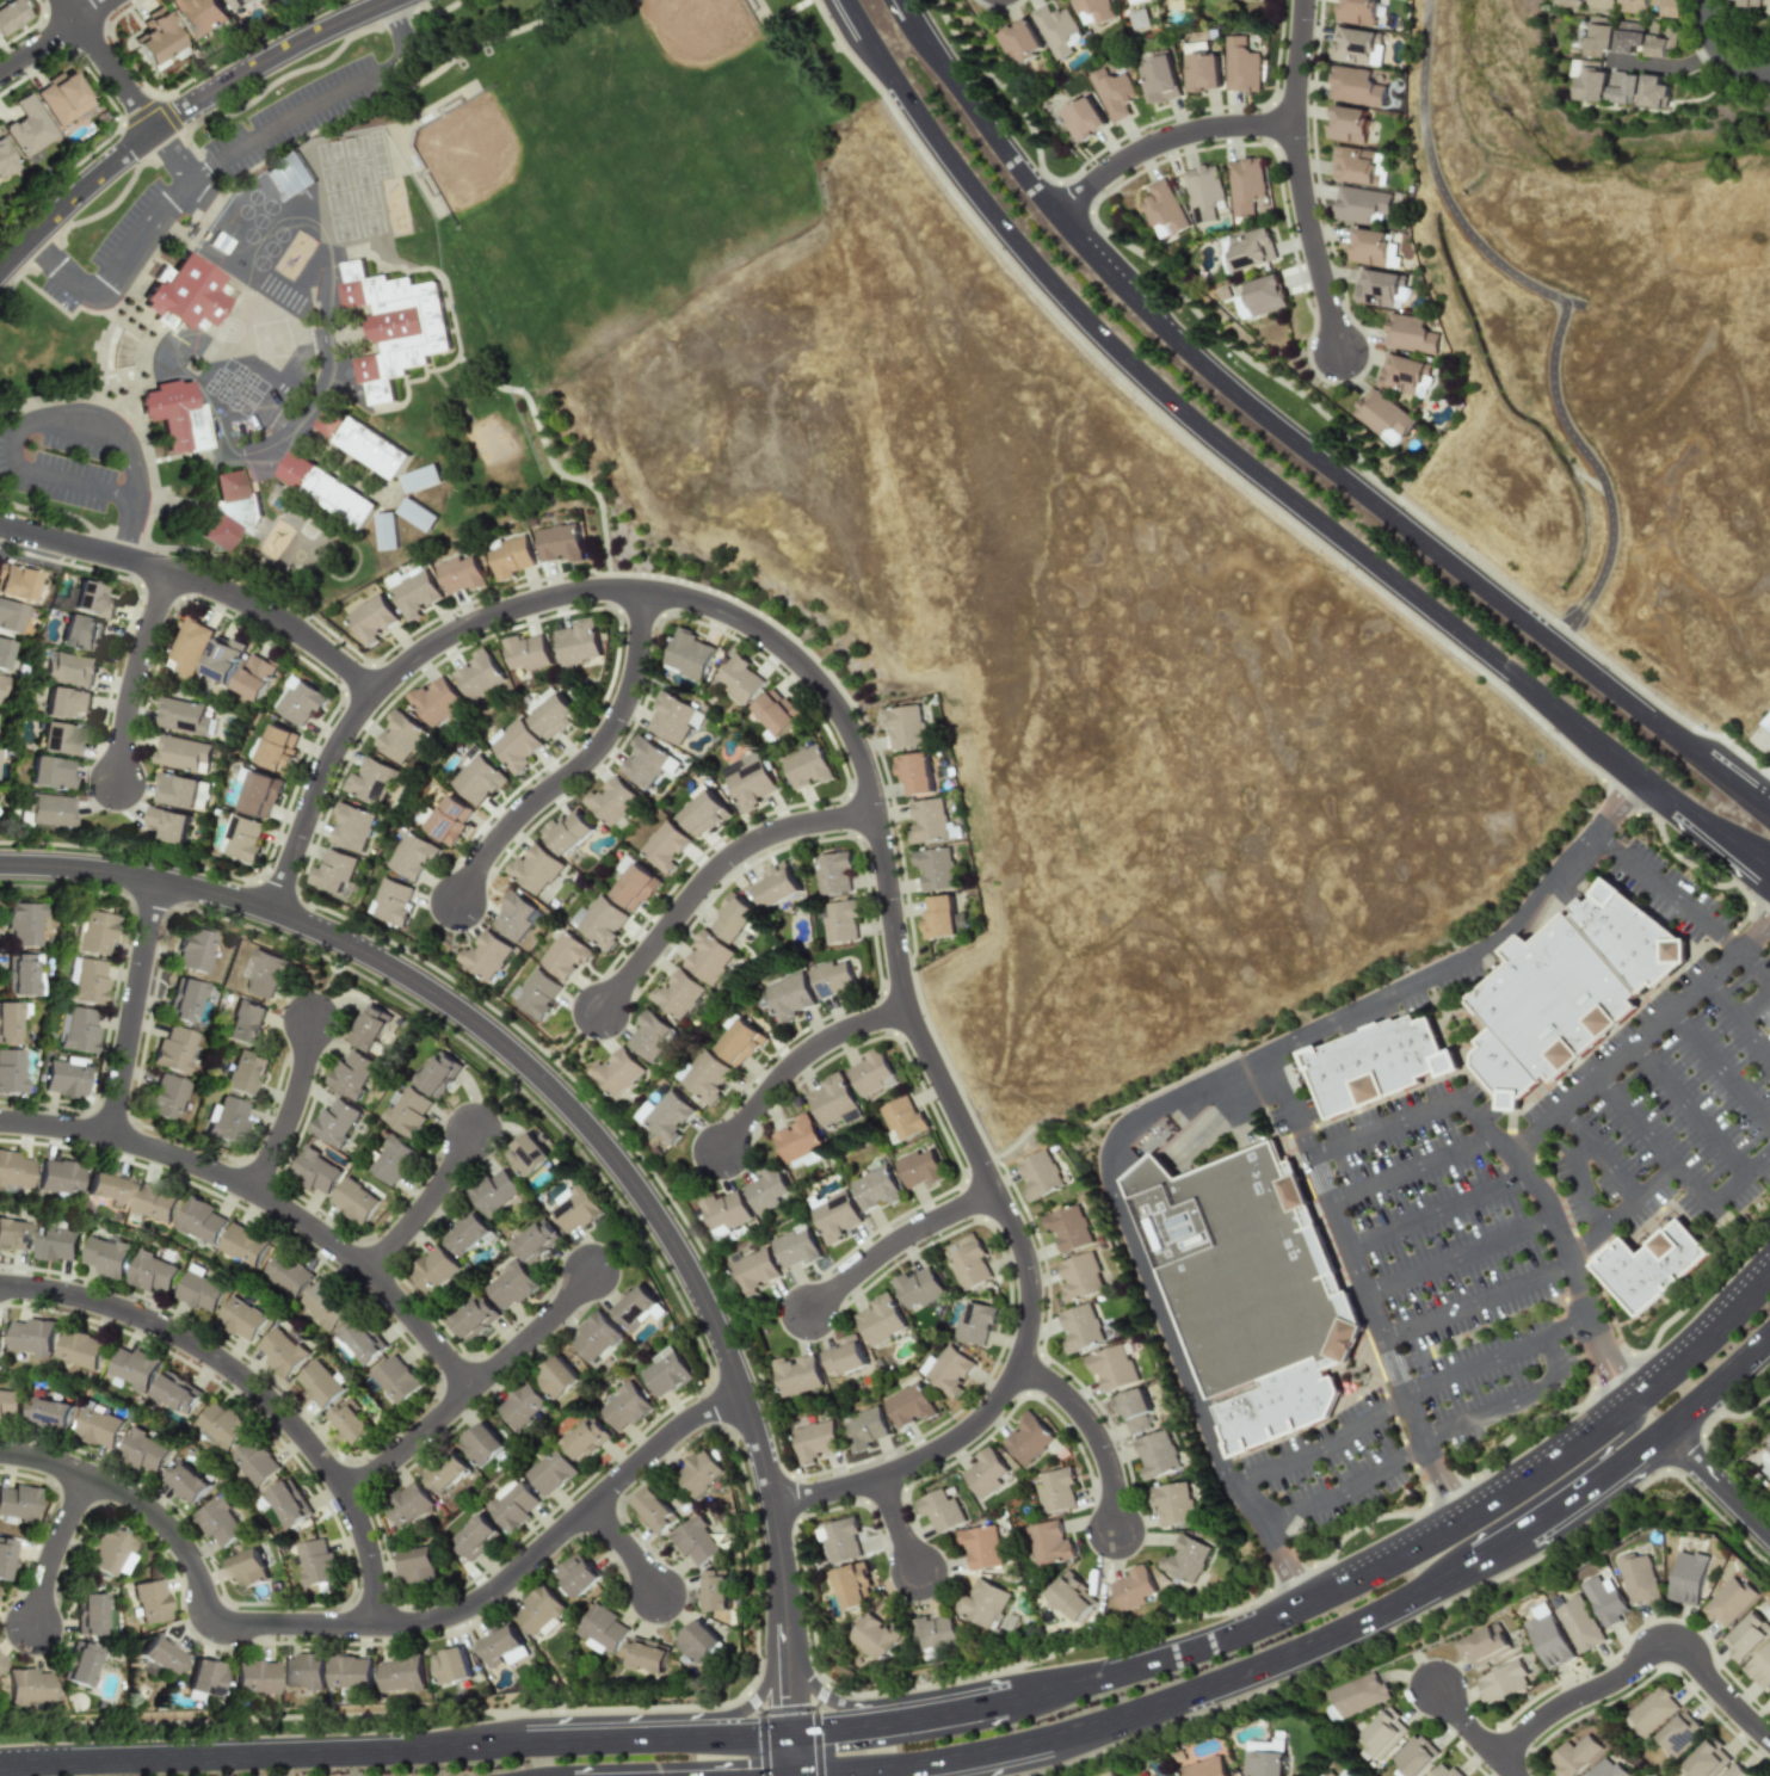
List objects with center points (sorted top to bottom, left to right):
building: (1131, 1)
building: (1568, 2)
building: (1749, 2)
building: (1765, 2)
building: (240, 4)
building: (1598, 5)
building: (1632, 6)
building: (1666, 7)
building: (1092, 10)
road: (94, 11)
building: (1357, 11)
building: (12, 16)
building: (201, 16)
building: (1055, 29)
building: (1597, 36)
building: (1626, 36)
building: (159, 41)
building: (1019, 41)
building: (1658, 43)
building: (1355, 44)
road: (39, 48)
road: (1719, 53)
road: (1294, 62)
building: (1240, 64)
road: (1663, 64)
road: (110, 66)
building: (1199, 68)
building: (1158, 80)
building: (1587, 81)
building: (1353, 86)
building: (1621, 87)
building: (1112, 92)
building: (1652, 92)
building: (62, 97)
road: (180, 115)
building: (1081, 117)
building: (1347, 124)
building: (27, 127)
road: (1165, 140)
road: (175, 156)
building: (4, 160)
road: (222, 161)
building: (1358, 166)
building: (289, 175)
building: (1244, 184)
road: (1442, 189)
building: (1202, 191)
building: (1361, 204)
building: (1161, 210)
road: (1308, 240)
building: (1374, 247)
building: (1246, 249)
building: (1383, 289)
building: (183, 294)
building: (1262, 296)
building: (394, 326)
building: (1411, 333)
building: (1407, 374)
building: (175, 415)
building: (1382, 417)
building: (328, 423)
road: (104, 426)
road: (1305, 438)
building: (369, 448)
road: (1602, 475)
road: (61, 479)
building: (419, 479)
road: (1256, 485)
building: (325, 489)
building: (229, 510)
building: (415, 514)
road: (132, 529)
building: (386, 530)
park: (967, 536)
building: (559, 543)
building: (511, 557)
building: (460, 574)
building: (17, 581)
road: (199, 582)
building: (413, 591)
building: (91, 599)
building: (10, 616)
building: (371, 619)
building: (80, 631)
building: (578, 642)
building: (189, 647)
building: (4, 652)
building: (525, 653)
building: (689, 654)
building: (222, 659)
building: (70, 668)
road: (135, 674)
building: (476, 674)
building: (254, 677)
building: (739, 679)
building: (1, 683)
building: (298, 701)
building: (63, 702)
building: (433, 702)
building: (776, 713)
building: (551, 717)
building: (673, 719)
building: (1766, 724)
building: (903, 726)
building: (399, 736)
building: (60, 739)
building: (513, 745)
building: (278, 748)
building: (183, 754)
road: (582, 763)
building: (643, 763)
building: (806, 766)
building: (49, 773)
building: (913, 775)
building: (477, 779)
building: (370, 781)
building: (747, 781)
building: (177, 790)
building: (260, 794)
building: (611, 801)
road: (875, 808)
building: (47, 809)
building: (702, 812)
building: (444, 819)
building: (926, 821)
building: (168, 824)
building: (351, 827)
building: (567, 832)
building: (242, 838)
building: (664, 846)
building: (412, 856)
building: (624, 865)
building: (933, 868)
building: (535, 869)
building: (332, 870)
road: (713, 871)
building: (832, 872)
building: (773, 886)
building: (634, 888)
building: (391, 901)
road: (1680, 909)
building: (513, 917)
building: (938, 917)
building: (733, 918)
building: (839, 921)
building: (23, 923)
building: (602, 923)
building: (95, 932)
building: (1636, 937)
building: (193, 949)
building: (486, 955)
building: (565, 956)
building: (708, 957)
building: (19, 974)
building: (265, 974)
building: (831, 980)
building: (86, 981)
road: (329, 982)
building: (536, 993)
building: (677, 994)
building: (788, 997)
building: (1561, 999)
building: (183, 1000)
road: (1754, 1007)
road: (135, 1009)
road: (1737, 1019)
building: (7, 1022)
building: (245, 1023)
building: (370, 1028)
building: (78, 1030)
building: (649, 1036)
road: (1643, 1036)
building: (739, 1043)
building: (172, 1050)
road: (798, 1060)
building: (1382, 1066)
building: (11, 1071)
road: (537, 1071)
building: (869, 1072)
building: (1509, 1072)
road: (1719, 1072)
building: (243, 1073)
building: (616, 1073)
building: (351, 1074)
building: (439, 1074)
building: (64, 1077)
building: (704, 1077)
road: (551, 1090)
building: (165, 1097)
road: (1170, 1098)
building: (830, 1100)
road: (291, 1108)
building: (407, 1111)
road: (1686, 1114)
building: (667, 1117)
building: (227, 1120)
building: (901, 1120)
road: (1051, 1121)
building: (335, 1122)
building: (795, 1139)
road: (1599, 1153)
building: (526, 1154)
building: (393, 1161)
building: (918, 1168)
building: (14, 1170)
road: (1527, 1170)
building: (314, 1171)
road: (1411, 1171)
building: (1038, 1174)
road: (1679, 1174)
building: (58, 1177)
road: (1581, 1184)
building: (106, 1186)
building: (874, 1189)
building: (765, 1190)
building: (493, 1192)
road: (266, 1198)
building: (353, 1201)
building: (153, 1202)
road: (425, 1204)
parking lot: (1527, 1204)
building: (575, 1208)
building: (724, 1209)
road: (1621, 1211)
road: (1438, 1213)
building: (833, 1215)
building: (201, 1220)
building: (1067, 1228)
building: (465, 1233)
building: (14, 1234)
building: (535, 1241)
road: (895, 1242)
building: (57, 1244)
building: (243, 1244)
building: (794, 1246)
road: (627, 1250)
building: (106, 1257)
road: (1460, 1258)
street lamp: (1735, 1263)
building: (969, 1265)
building: (1245, 1266)
building: (1655, 1268)
building: (432, 1270)
building: (753, 1271)
building: (152, 1272)
building: (288, 1275)
building: (1078, 1275)
building: (511, 1285)
building: (917, 1288)
road: (1362, 1288)
building: (199, 1289)
road: (1478, 1301)
building: (323, 1306)
building: (634, 1306)
building: (473, 1316)
building: (241, 1318)
building: (880, 1320)
building: (974, 1322)
building: (1080, 1326)
building: (0, 1327)
road: (534, 1333)
building: (32, 1337)
building: (593, 1337)
building: (359, 1343)
building: (80, 1349)
building: (282, 1352)
building: (844, 1356)
building: (1111, 1364)
building: (132, 1369)
building: (949, 1371)
building: (664, 1373)
building: (796, 1375)
building: (556, 1377)
building: (396, 1379)
building: (319, 1383)
road: (253, 1386)
building: (177, 1392)
road: (1406, 1395)
building: (10, 1404)
building: (520, 1405)
building: (908, 1405)
building: (1277, 1406)
building: (624, 1407)
building: (1133, 1408)
street lamp: (1741, 1410)
building: (49, 1413)
street lamp: (1569, 1416)
building: (351, 1423)
building: (221, 1425)
building: (98, 1427)
building: (864, 1427)
road: (1093, 1432)
building: (1026, 1438)
building: (585, 1439)
building: (814, 1441)
road: (1425, 1441)
road: (409, 1443)
building: (481, 1444)
building: (142, 1451)
building: (1154, 1453)
road: (1599, 1456)
building: (255, 1461)
building: (445, 1473)
building: (550, 1473)
building: (697, 1473)
building: (985, 1473)
building: (186, 1482)
road: (1716, 1482)
building: (1057, 1491)
building: (18, 1501)
building: (1170, 1501)
building: (289, 1503)
building: (407, 1504)
building: (511, 1505)
building: (654, 1511)
building: (939, 1511)
building: (218, 1522)
road: (898, 1524)
building: (475, 1538)
building: (695, 1541)
building: (840, 1541)
building: (1049, 1543)
building: (980, 1547)
road: (625, 1548)
road: (55, 1549)
building: (110, 1552)
street lamp: (1757, 1552)
street lamp: (1343, 1554)
building: (5, 1558)
building: (1184, 1559)
building: (316, 1562)
building: (418, 1565)
building: (248, 1568)
building: (576, 1575)
building: (1689, 1578)
street lamp: (1518, 1579)
building: (1641, 1579)
building: (852, 1585)
building: (1131, 1587)
building: (714, 1591)
building: (1071, 1596)
building: (149, 1601)
building: (1606, 1602)
building: (1729, 1602)
building: (982, 1603)
building: (538, 1609)
building: (87, 1614)
road: (369, 1624)
building: (1580, 1624)
building: (600, 1629)
building: (936, 1633)
road: (1331, 1634)
building: (1746, 1635)
building: (1548, 1636)
building: (875, 1638)
building: (698, 1641)
building: (501, 1646)
street lamp: (1097, 1646)
building: (1484, 1646)
road: (1641, 1654)
building: (159, 1655)
building: (646, 1655)
building: (1, 1660)
building: (79, 1664)
building: (450, 1666)
building: (1759, 1667)
building: (303, 1671)
building: (351, 1672)
building: (401, 1673)
building: (203, 1677)
building: (253, 1677)
building: (1503, 1683)
building: (25, 1685)
road: (787, 1685)
building: (1769, 1688)
building: (1359, 1695)
road: (825, 1697)
traffic signals: (788, 1698)
street lamp: (1247, 1708)
road: (739, 1709)
building: (1653, 1710)
road: (945, 1713)
road: (1467, 1726)
traffic signals: (830, 1728)
building: (1679, 1733)
building: (1381, 1734)
building: (1268, 1744)
road: (790, 1753)
building: (1416, 1756)
building: (1573, 1756)
building: (1703, 1760)
building: (1263, 1764)
building: (1204, 1768)
road: (1505, 1768)
building: (1605, 1769)
building: (1443, 1770)
building: (1735, 1770)
road: (888, 1771)
building: (1343, 1772)
building: (1326, 1774)

